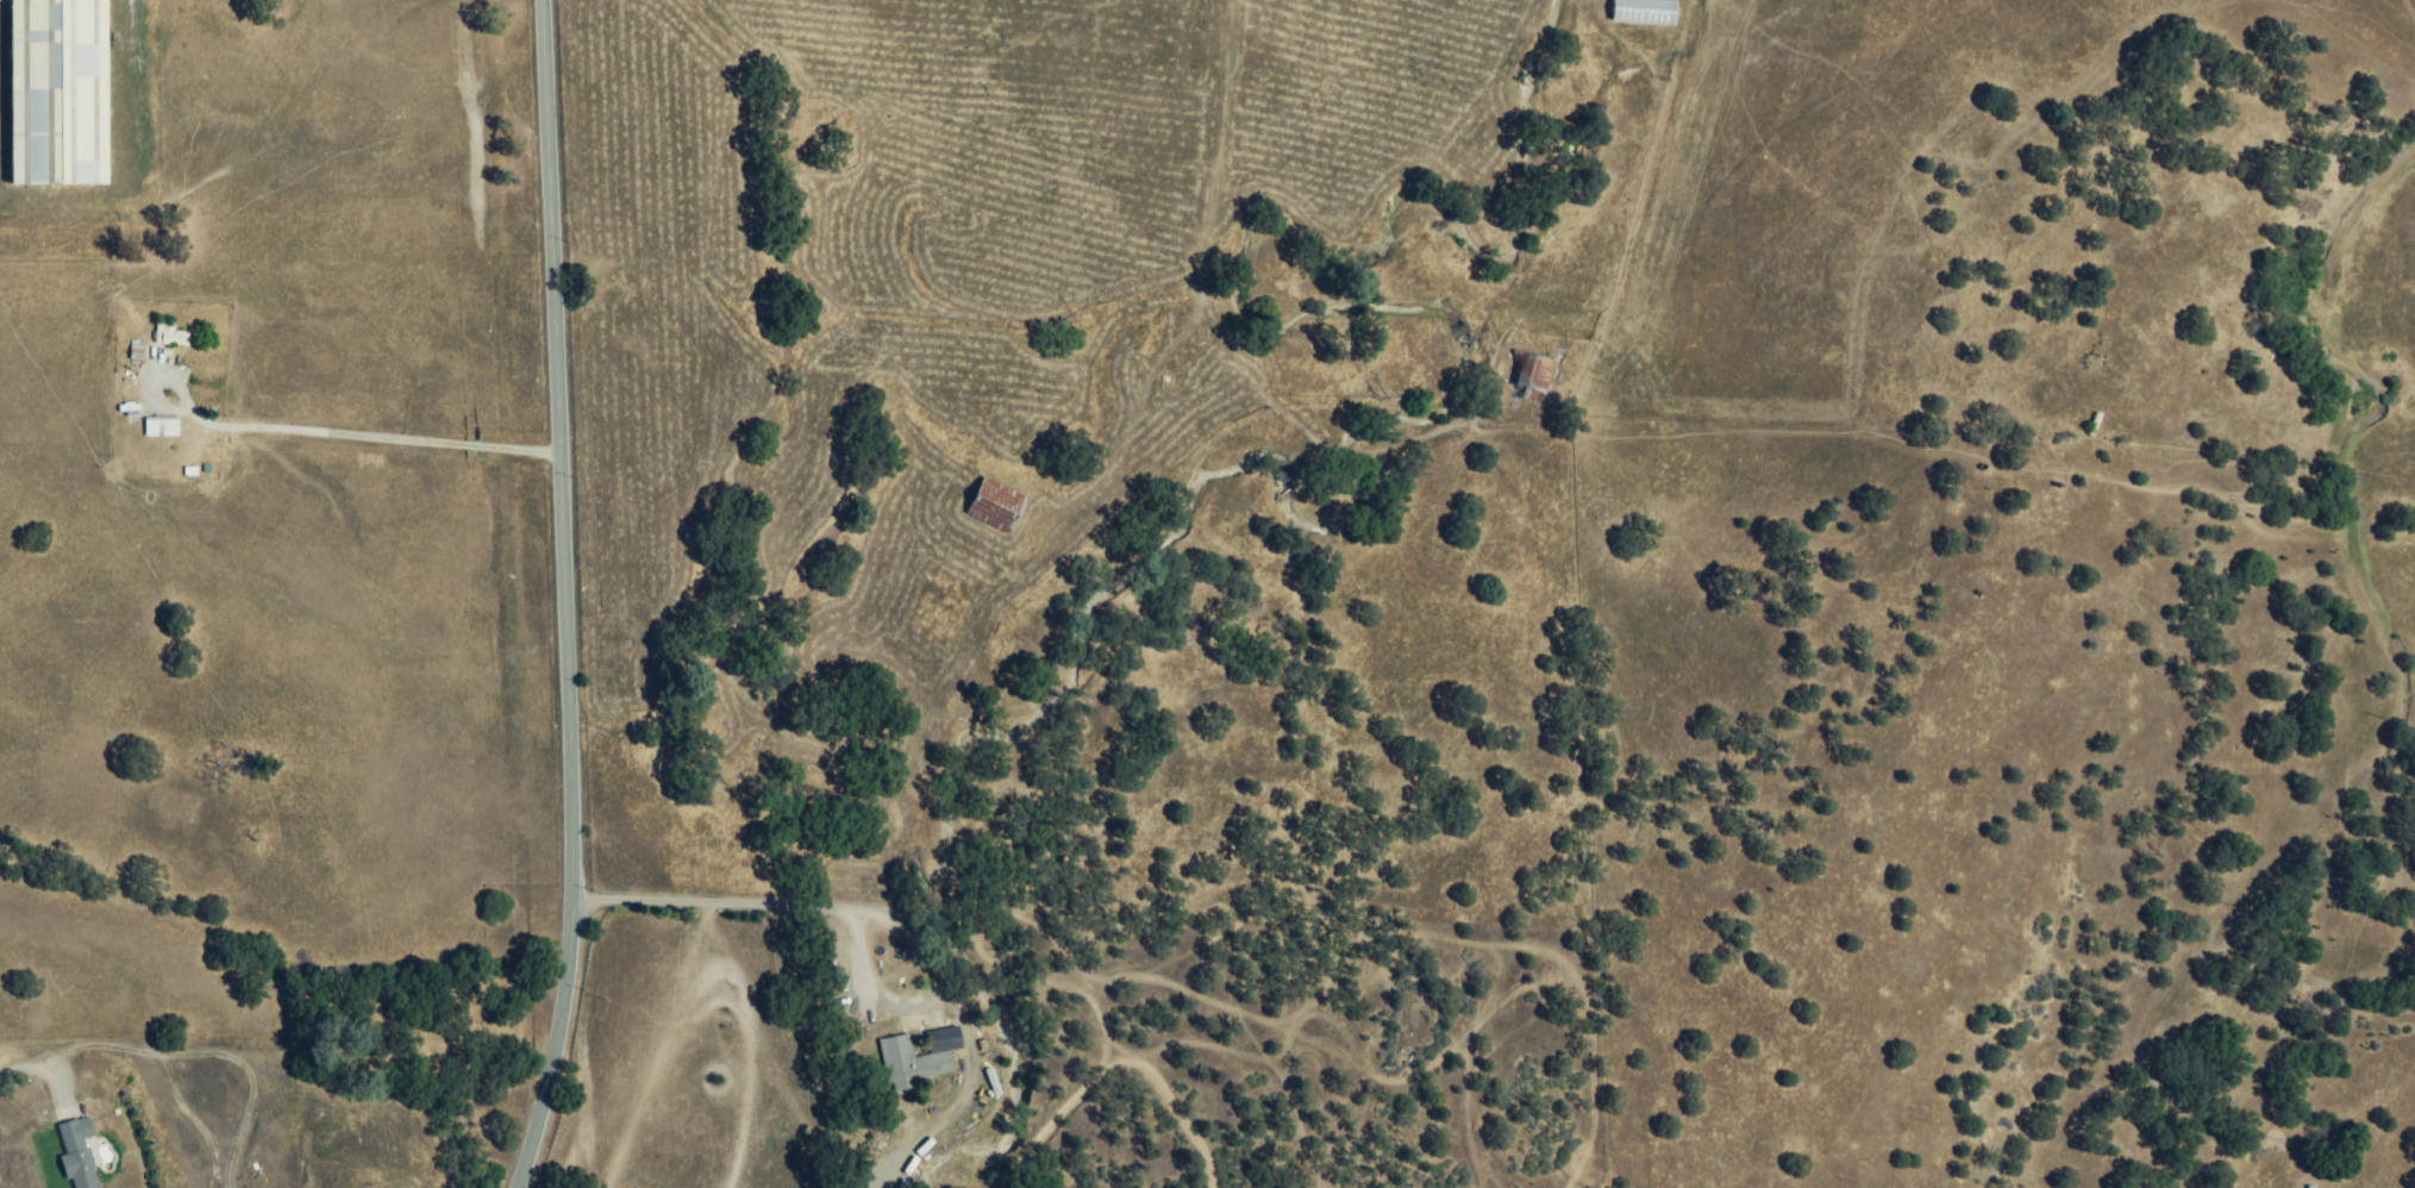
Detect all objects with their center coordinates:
building: (1643, 12)
building: (58, 90)
building: (174, 337)
building: (1537, 377)
building: (163, 426)
road: (358, 437)
building: (996, 506)
road: (564, 596)
road: (856, 908)
road: (33, 1057)
building: (911, 1063)
road: (952, 1106)
building: (79, 1153)

